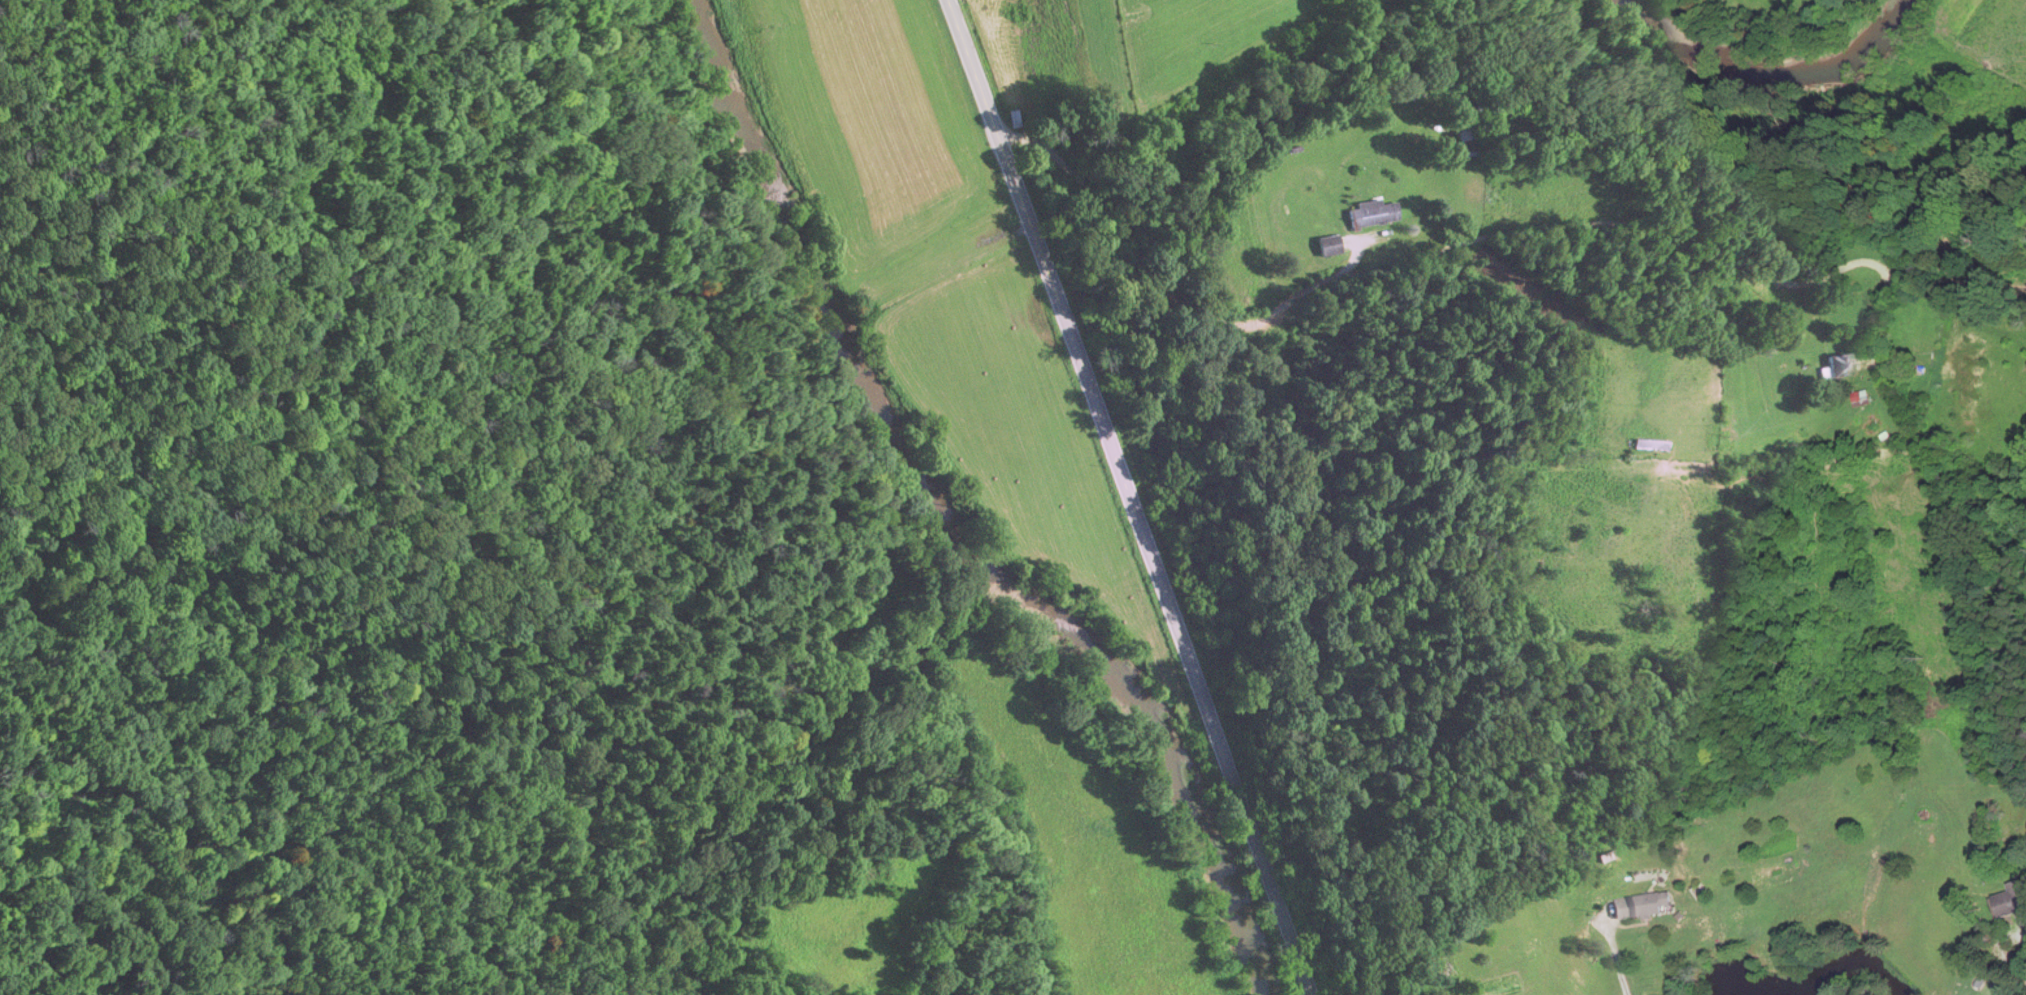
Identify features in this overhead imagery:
river: (1763, 65)
building: (1014, 120)
building: (1468, 146)
building: (1373, 216)
road: (1454, 255)
building: (1842, 368)
building: (1864, 399)
building: (1652, 447)
road: (1128, 496)
river: (958, 519)
building: (2013, 902)
building: (1644, 908)

